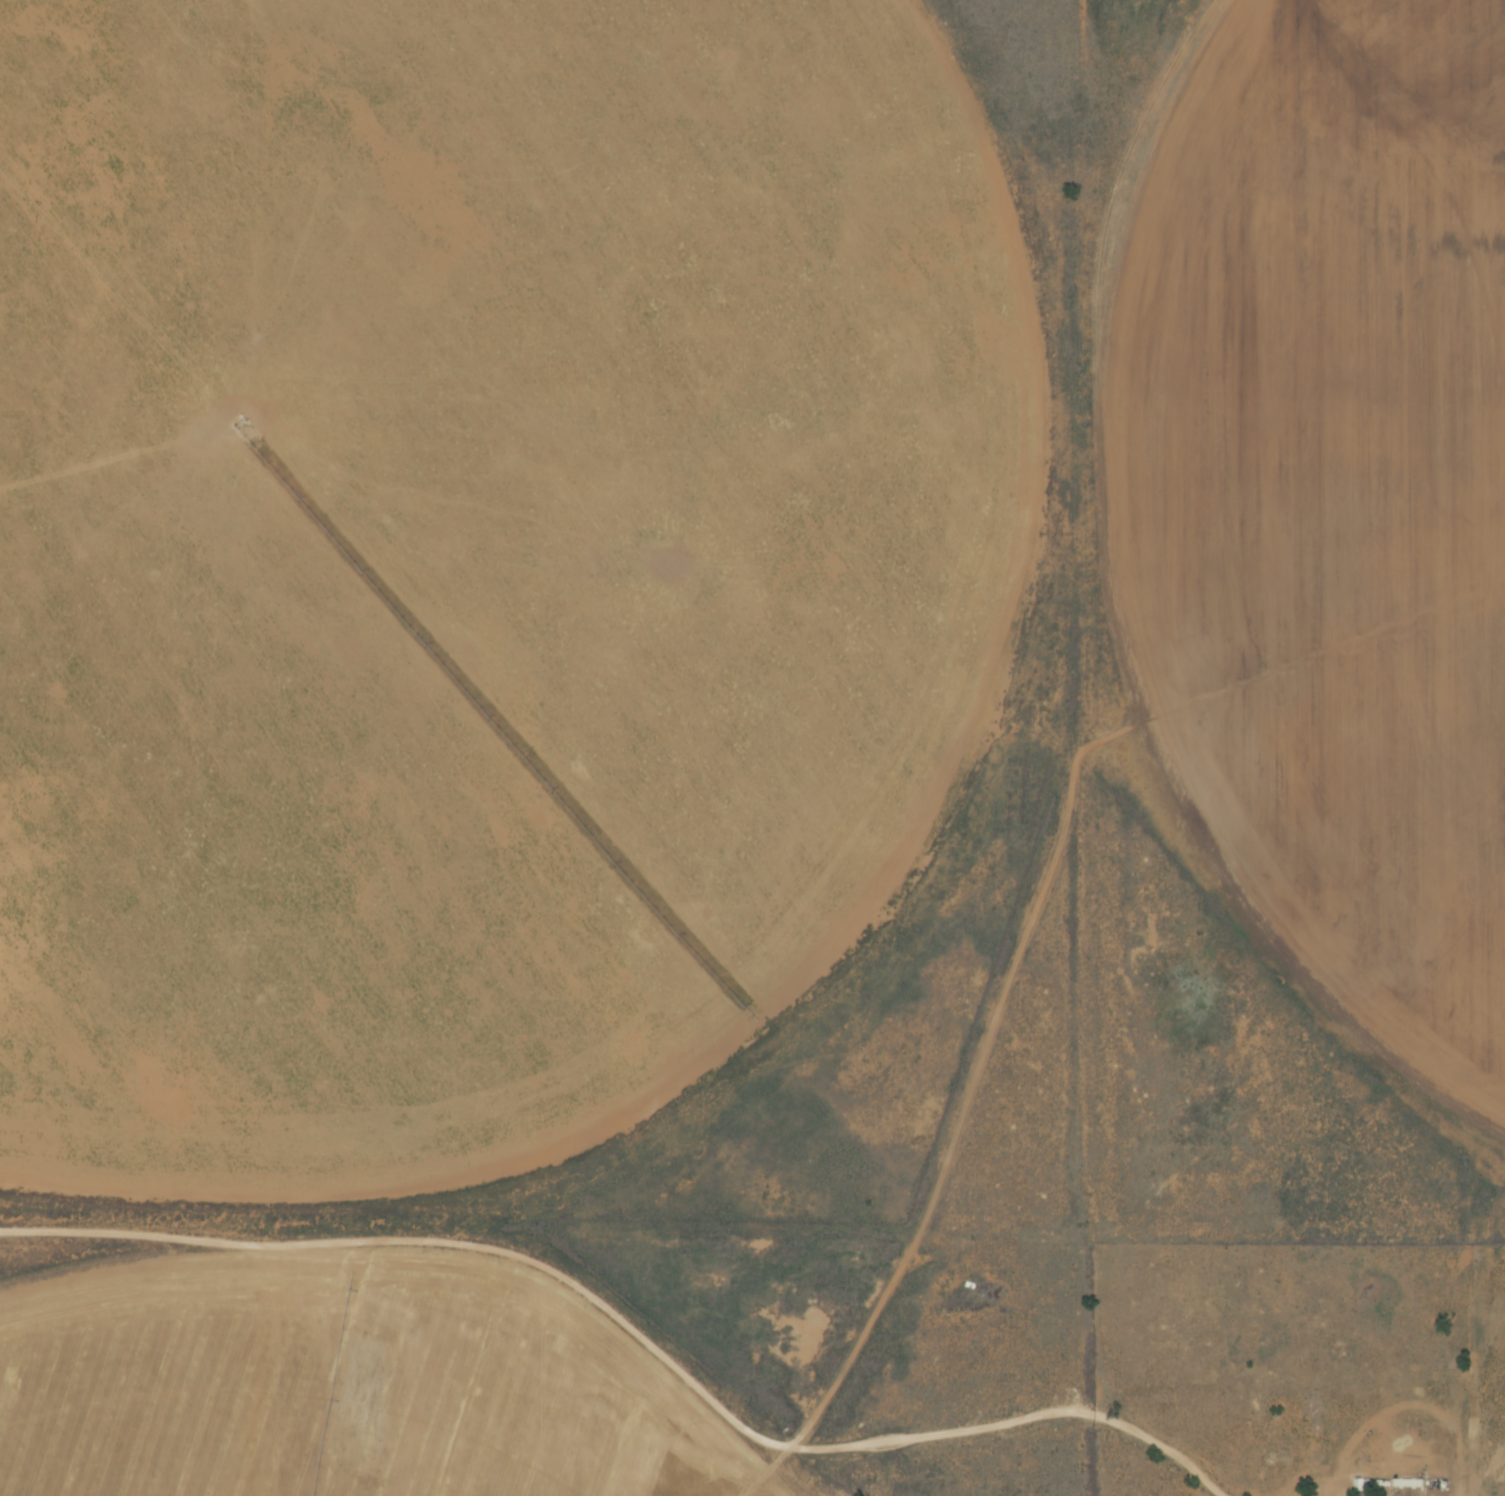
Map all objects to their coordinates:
road: (654, 427)
road: (632, 1332)

